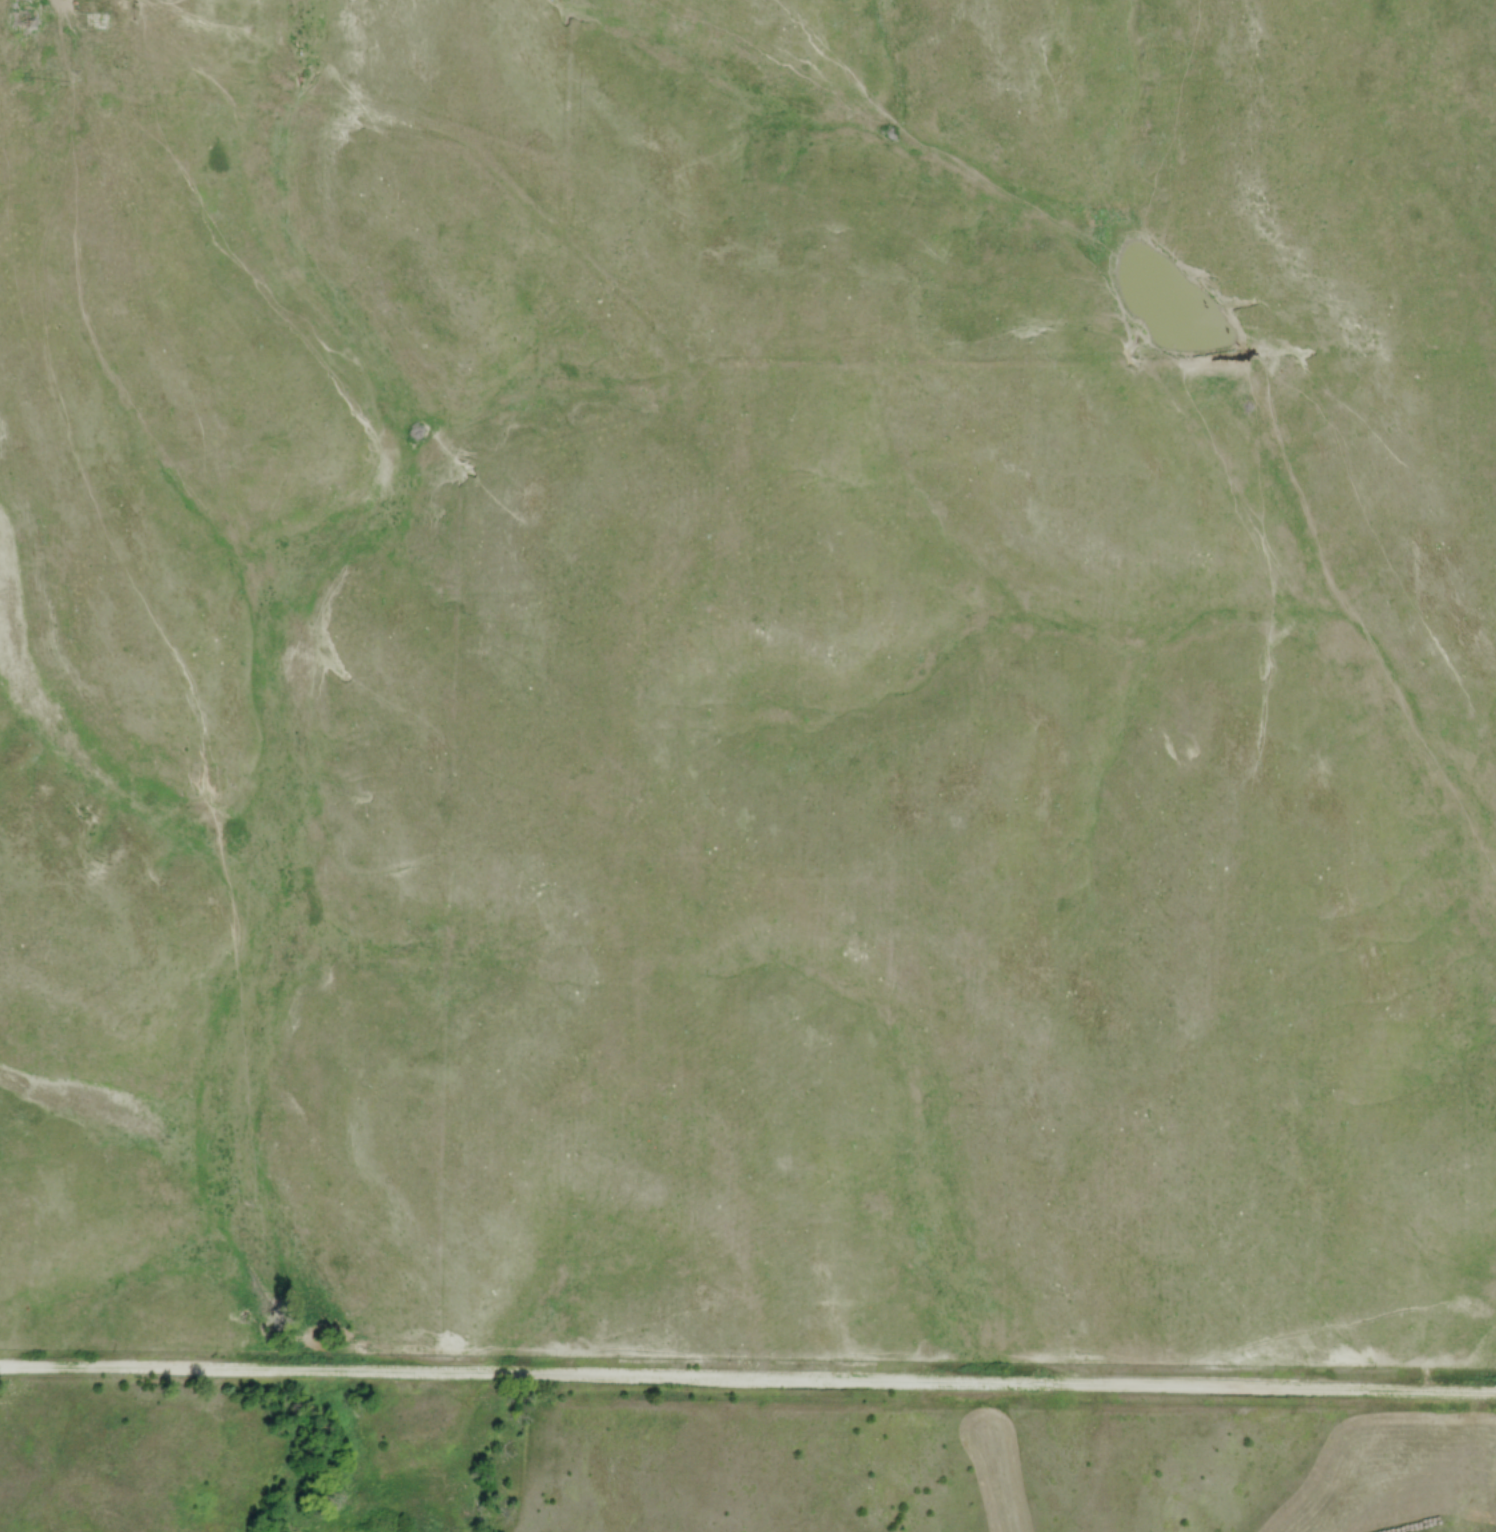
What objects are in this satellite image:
road: (747, 1379)

